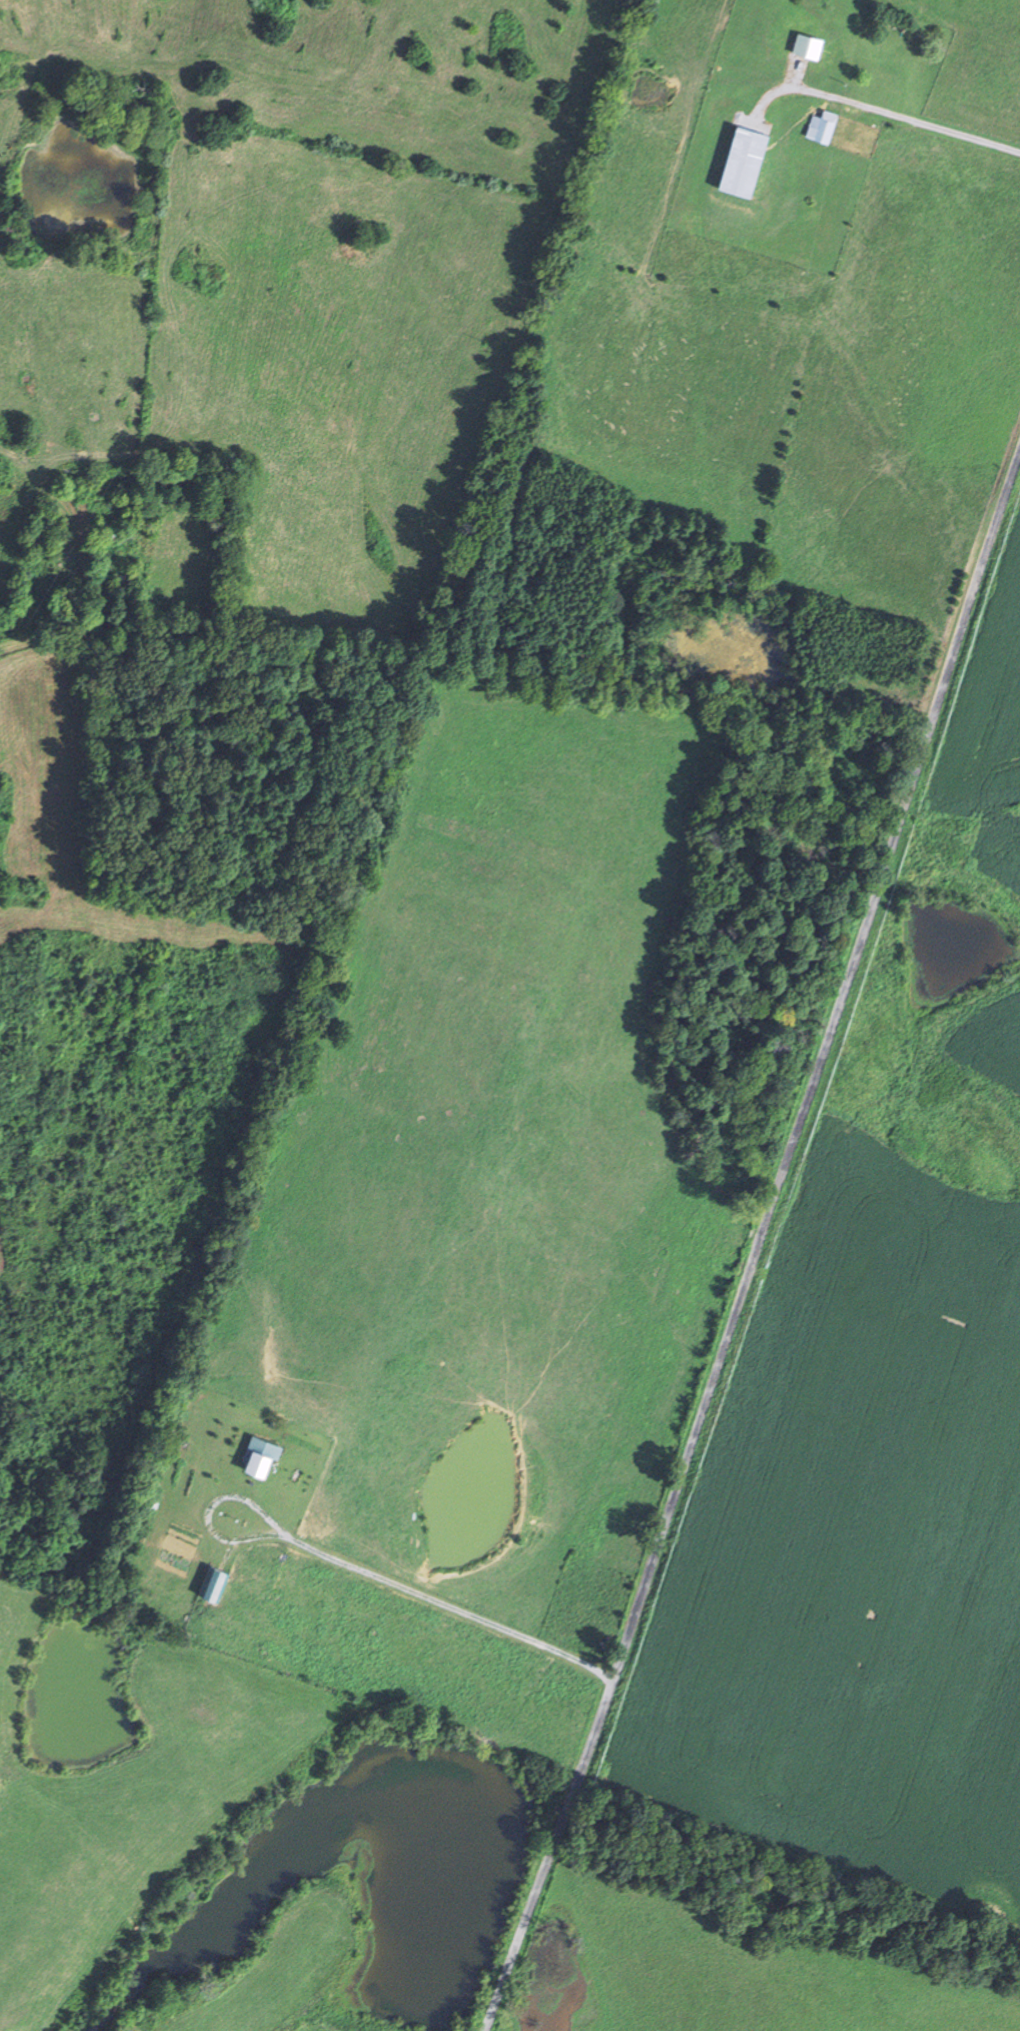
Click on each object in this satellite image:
road: (466, 660)
road: (761, 1251)

